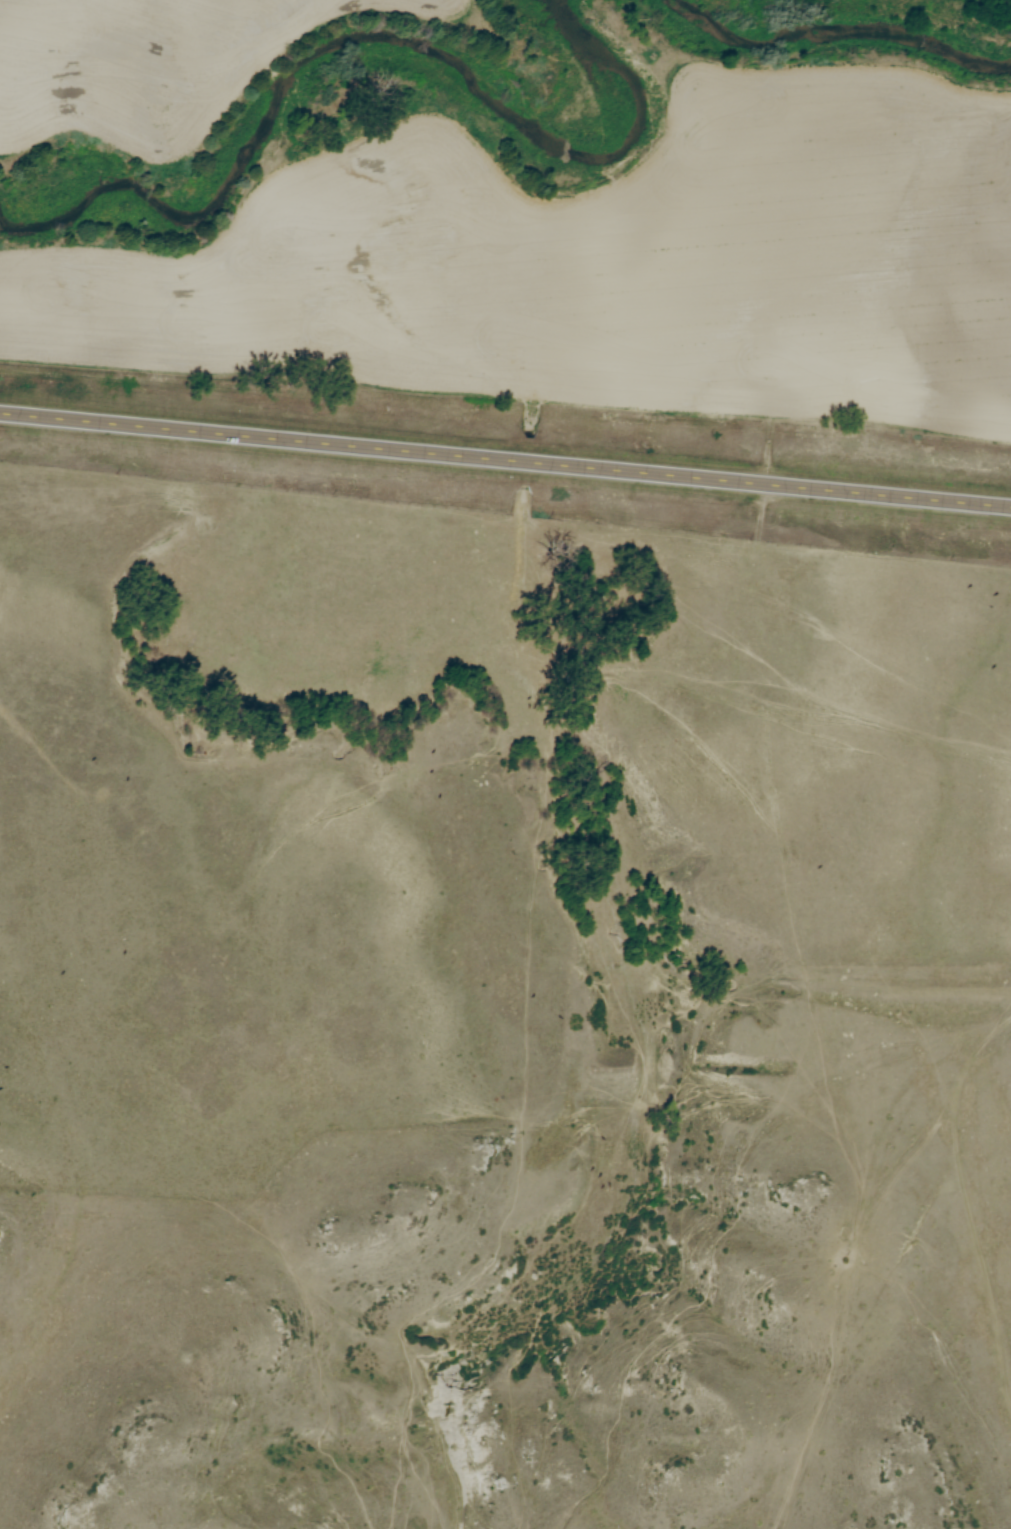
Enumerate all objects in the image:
road: (505, 457)

